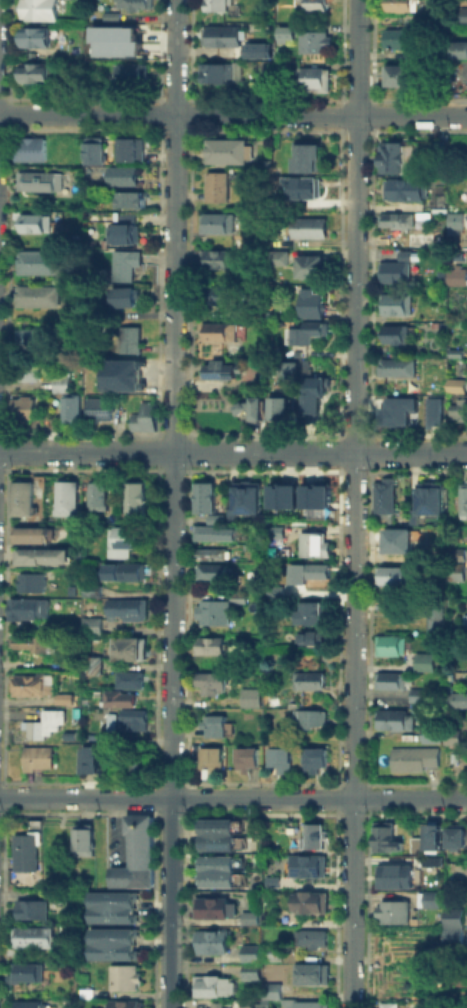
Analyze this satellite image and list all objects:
building: (133, 4)
building: (215, 4)
building: (313, 4)
building: (399, 5)
building: (37, 10)
building: (459, 13)
building: (110, 20)
building: (282, 28)
building: (220, 35)
building: (34, 36)
building: (129, 37)
building: (399, 37)
building: (313, 40)
building: (255, 49)
building: (459, 49)
building: (398, 53)
building: (415, 53)
building: (131, 71)
building: (33, 72)
building: (217, 72)
building: (310, 74)
building: (396, 74)
road: (233, 114)
building: (27, 147)
building: (130, 147)
building: (93, 150)
building: (224, 150)
building: (305, 155)
building: (393, 156)
building: (124, 175)
building: (38, 181)
building: (217, 186)
building: (301, 187)
building: (406, 189)
building: (131, 199)
building: (437, 203)
building: (395, 219)
building: (453, 219)
building: (216, 222)
building: (33, 223)
building: (308, 227)
building: (122, 233)
building: (419, 238)
building: (276, 257)
building: (216, 258)
building: (37, 261)
building: (124, 263)
building: (313, 265)
building: (394, 271)
building: (455, 275)
building: (219, 294)
building: (33, 295)
building: (124, 296)
building: (310, 302)
building: (395, 304)
building: (217, 331)
building: (309, 333)
building: (396, 333)
building: (31, 337)
building: (130, 338)
building: (453, 350)
building: (397, 366)
building: (285, 368)
building: (221, 370)
building: (30, 371)
building: (130, 375)
building: (60, 380)
building: (456, 383)
building: (311, 393)
building: (274, 404)
building: (249, 405)
building: (22, 408)
building: (70, 408)
building: (98, 409)
building: (458, 409)
building: (392, 410)
building: (433, 410)
building: (144, 416)
road: (233, 451)
building: (99, 492)
building: (317, 493)
building: (384, 494)
building: (282, 495)
building: (66, 497)
building: (204, 497)
building: (246, 497)
building: (428, 498)
building: (23, 499)
building: (135, 500)
building: (462, 500)
road: (172, 504)
road: (355, 504)
building: (228, 514)
building: (214, 518)
building: (74, 531)
building: (274, 531)
building: (214, 532)
building: (30, 533)
building: (427, 536)
building: (393, 538)
building: (122, 540)
building: (314, 544)
building: (41, 550)
building: (211, 552)
building: (426, 554)
building: (456, 564)
building: (128, 570)
building: (211, 570)
building: (308, 570)
building: (393, 575)
building: (30, 581)
building: (274, 585)
building: (91, 589)
building: (237, 592)
building: (28, 608)
building: (125, 609)
building: (213, 610)
building: (311, 611)
building: (433, 616)
building: (90, 623)
building: (312, 635)
building: (29, 641)
building: (208, 644)
building: (389, 645)
building: (127, 647)
building: (423, 662)
building: (90, 668)
building: (129, 677)
building: (308, 680)
building: (390, 680)
building: (206, 681)
building: (31, 683)
building: (416, 695)
building: (62, 697)
building: (117, 697)
building: (249, 698)
building: (457, 699)
building: (309, 715)
building: (393, 719)
building: (130, 720)
building: (42, 723)
building: (213, 724)
building: (428, 732)
building: (449, 735)
building: (449, 749)
building: (37, 758)
building: (210, 758)
building: (413, 758)
building: (245, 759)
building: (277, 759)
building: (311, 760)
building: (91, 764)
building: (135, 765)
road: (233, 798)
road: (118, 828)
building: (216, 833)
building: (384, 835)
building: (313, 836)
building: (433, 836)
building: (454, 836)
building: (85, 840)
building: (417, 844)
building: (25, 851)
building: (135, 855)
building: (430, 860)
building: (305, 865)
building: (216, 870)
building: (393, 879)
building: (269, 881)
building: (431, 899)
building: (310, 902)
building: (108, 903)
building: (32, 908)
building: (210, 908)
building: (392, 911)
building: (248, 917)
building: (452, 927)
building: (309, 937)
building: (29, 938)
building: (109, 940)
building: (210, 940)
building: (270, 950)
building: (243, 951)
building: (249, 970)
building: (26, 971)
building: (310, 973)
building: (123, 977)
building: (213, 985)
building: (270, 988)
building: (85, 992)
building: (122, 1003)
building: (259, 1003)
building: (307, 1004)
building: (30, 1005)
building: (384, 1005)
building: (216, 1006)

